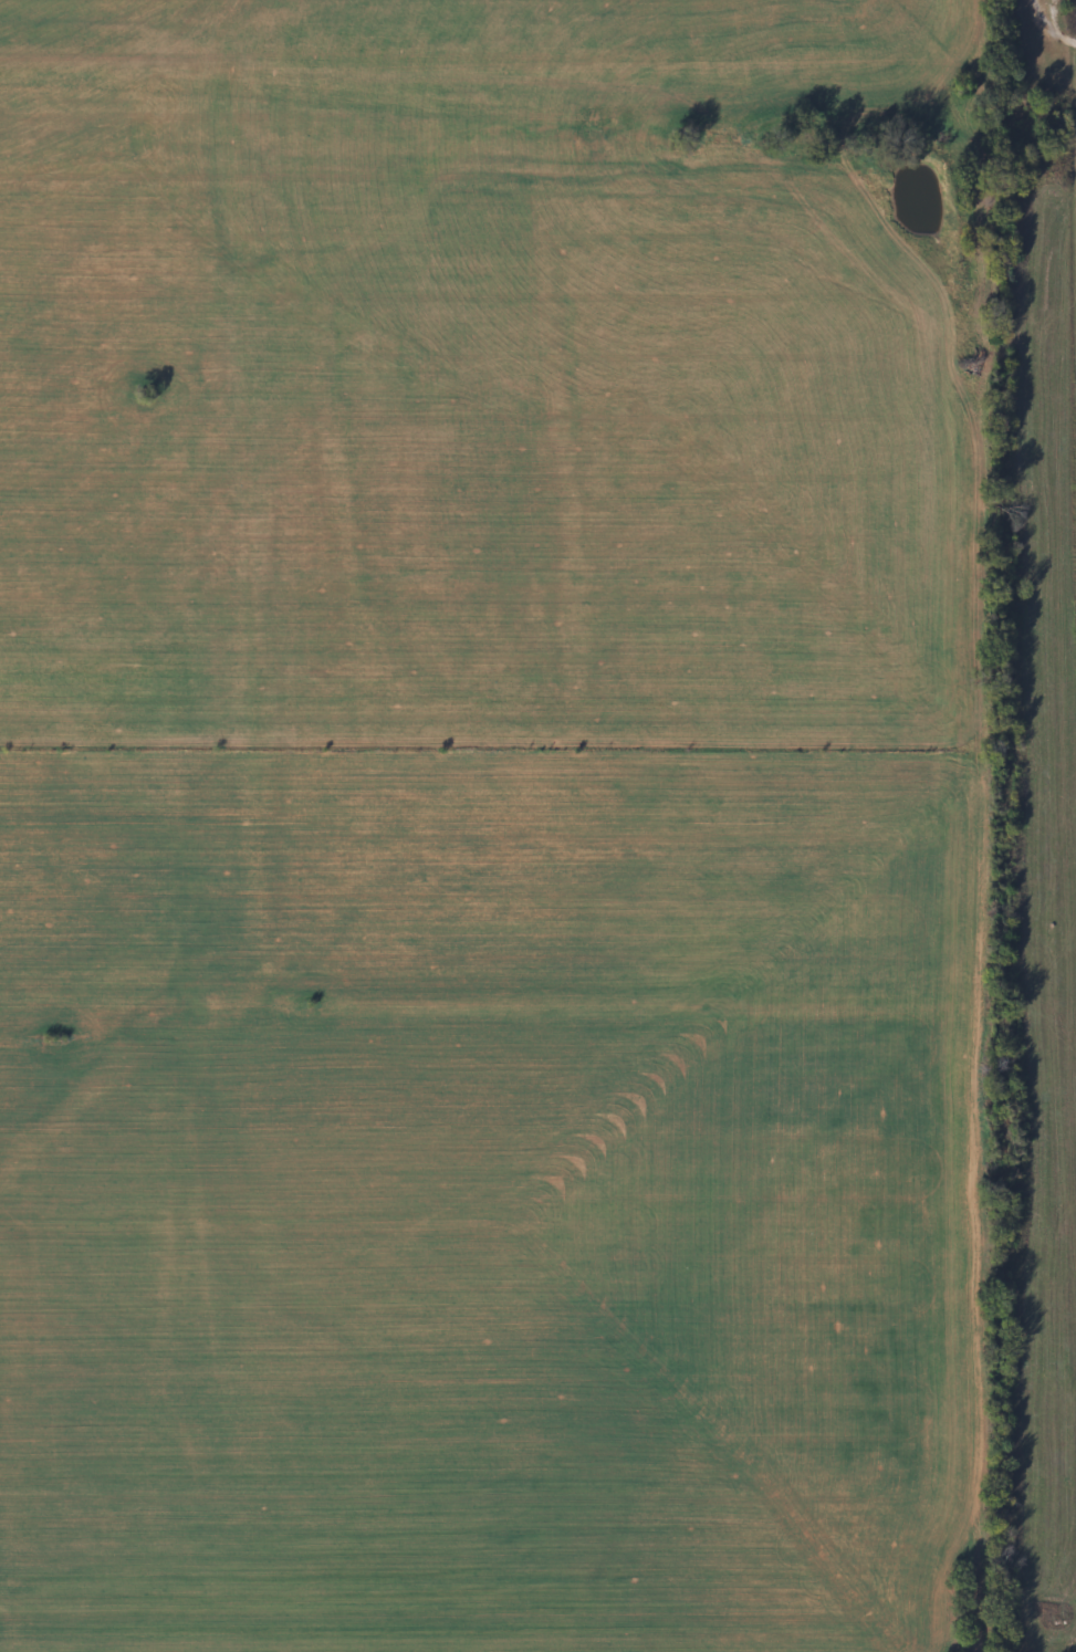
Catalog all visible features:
road: (991, 826)

